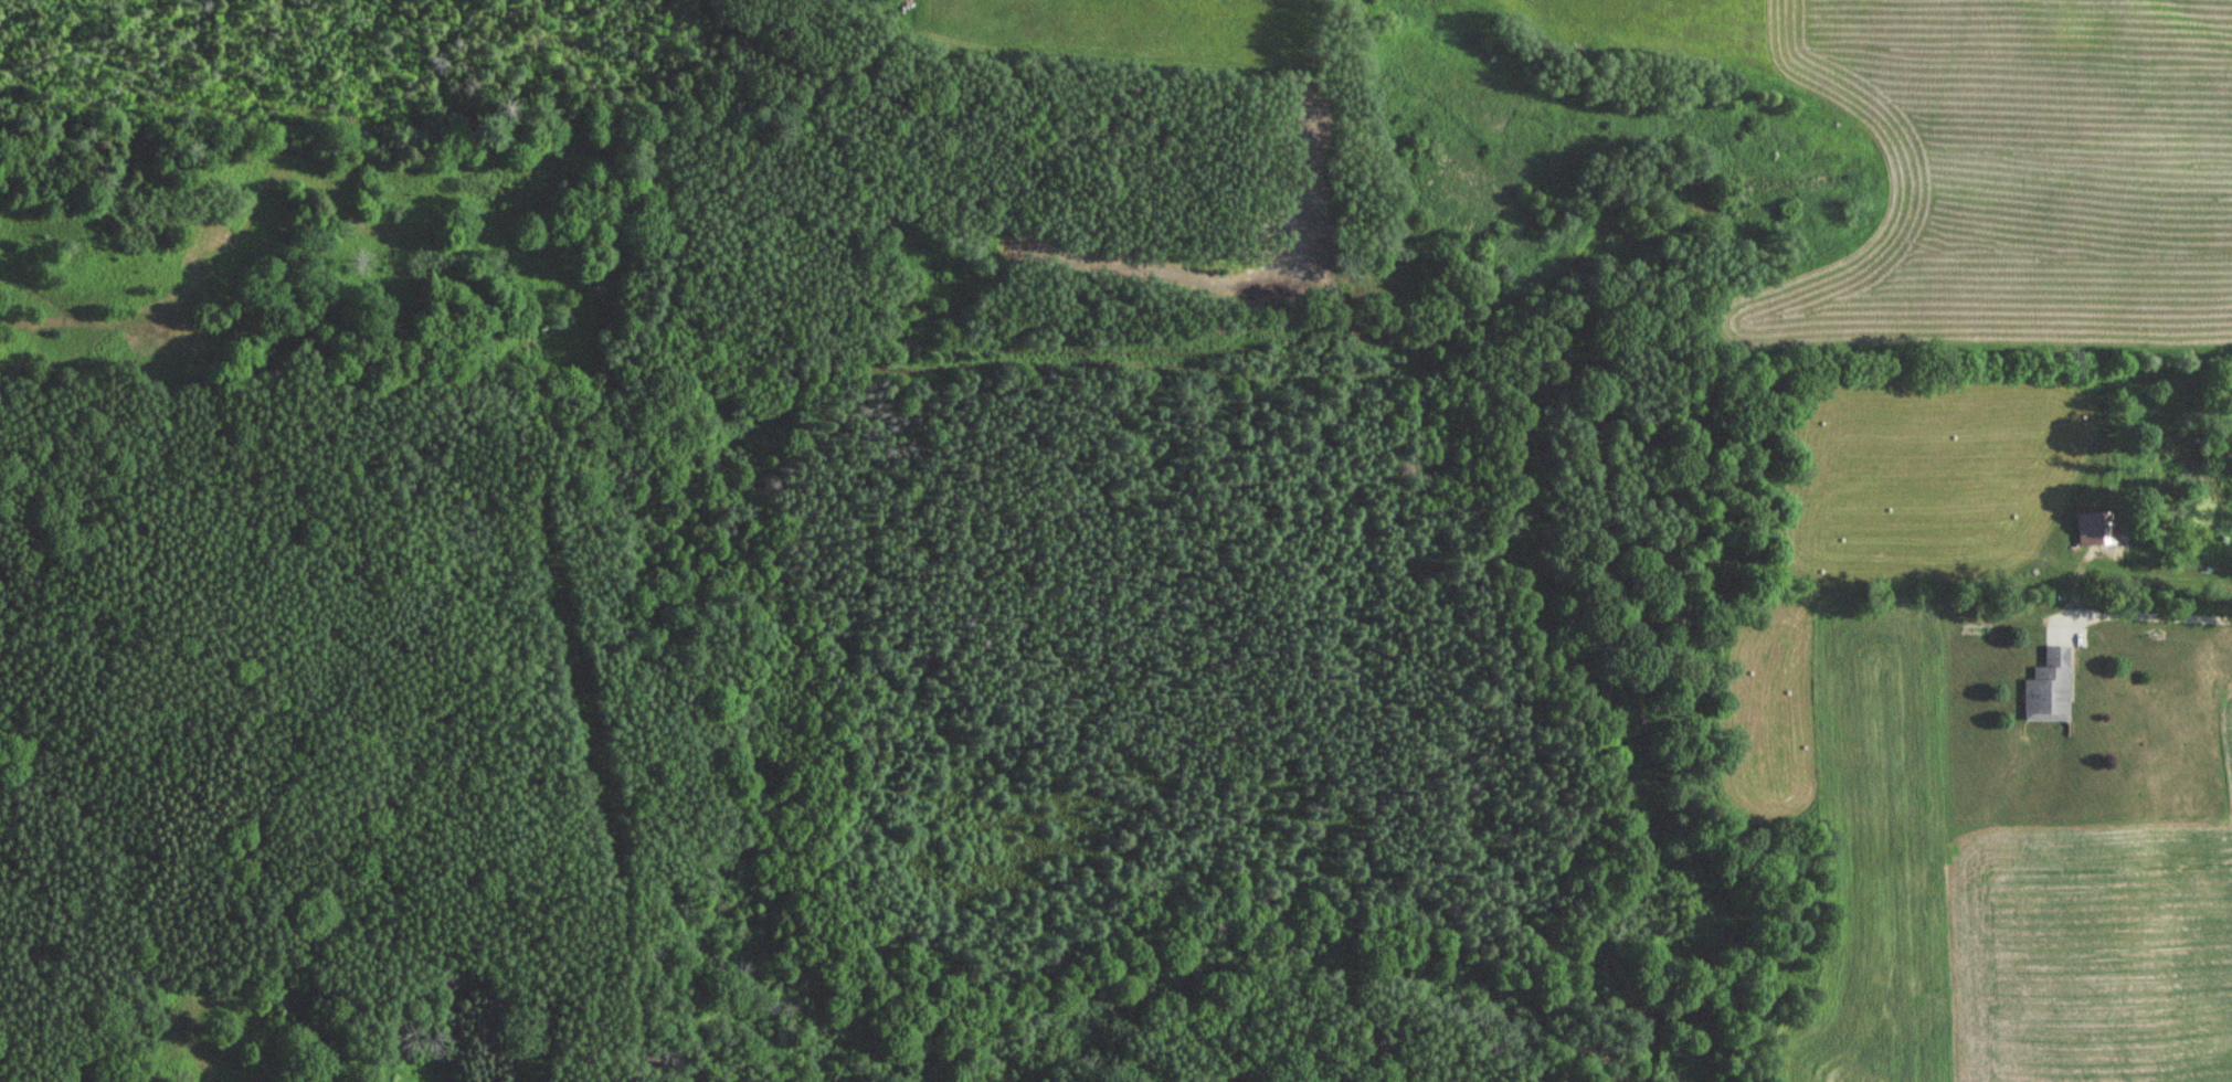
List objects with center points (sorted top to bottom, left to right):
building: (2096, 529)
road: (2080, 581)
road: (2150, 615)
road: (2065, 619)
road: (2061, 633)
building: (2045, 689)

